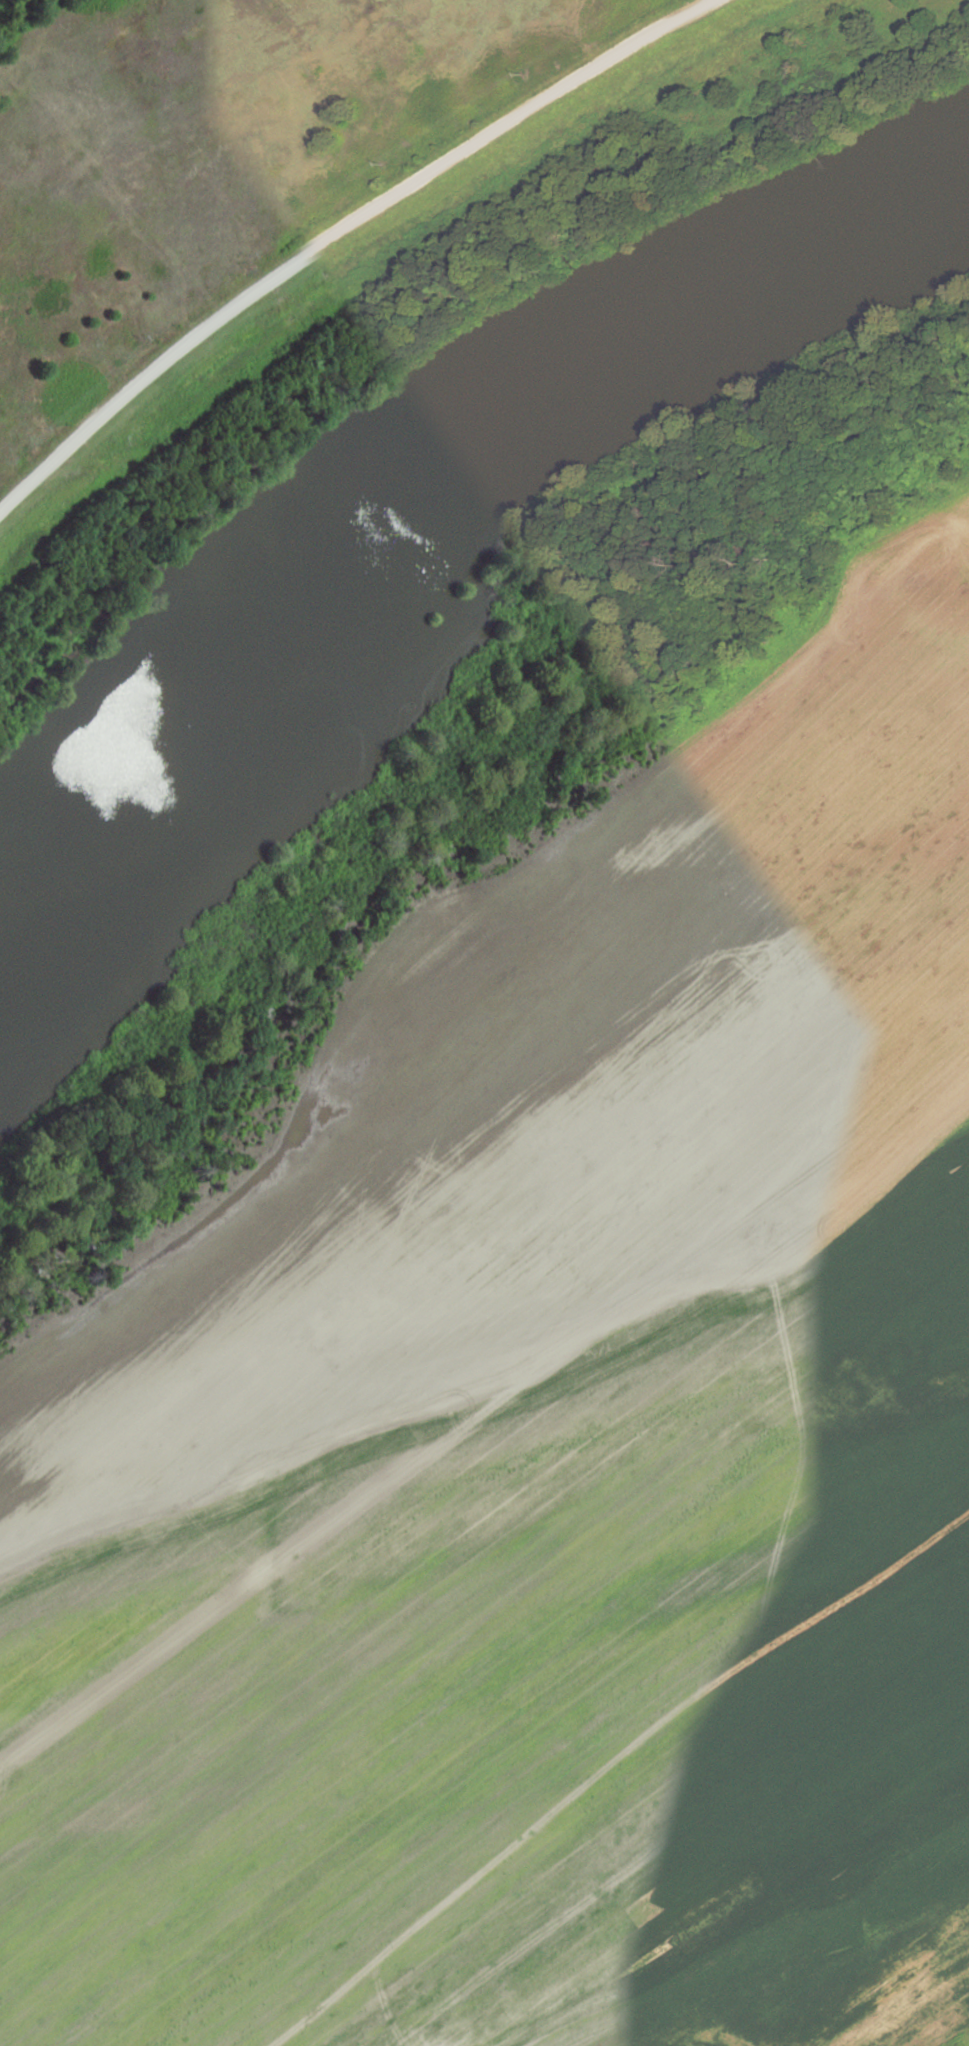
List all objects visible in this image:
road: (341, 232)

